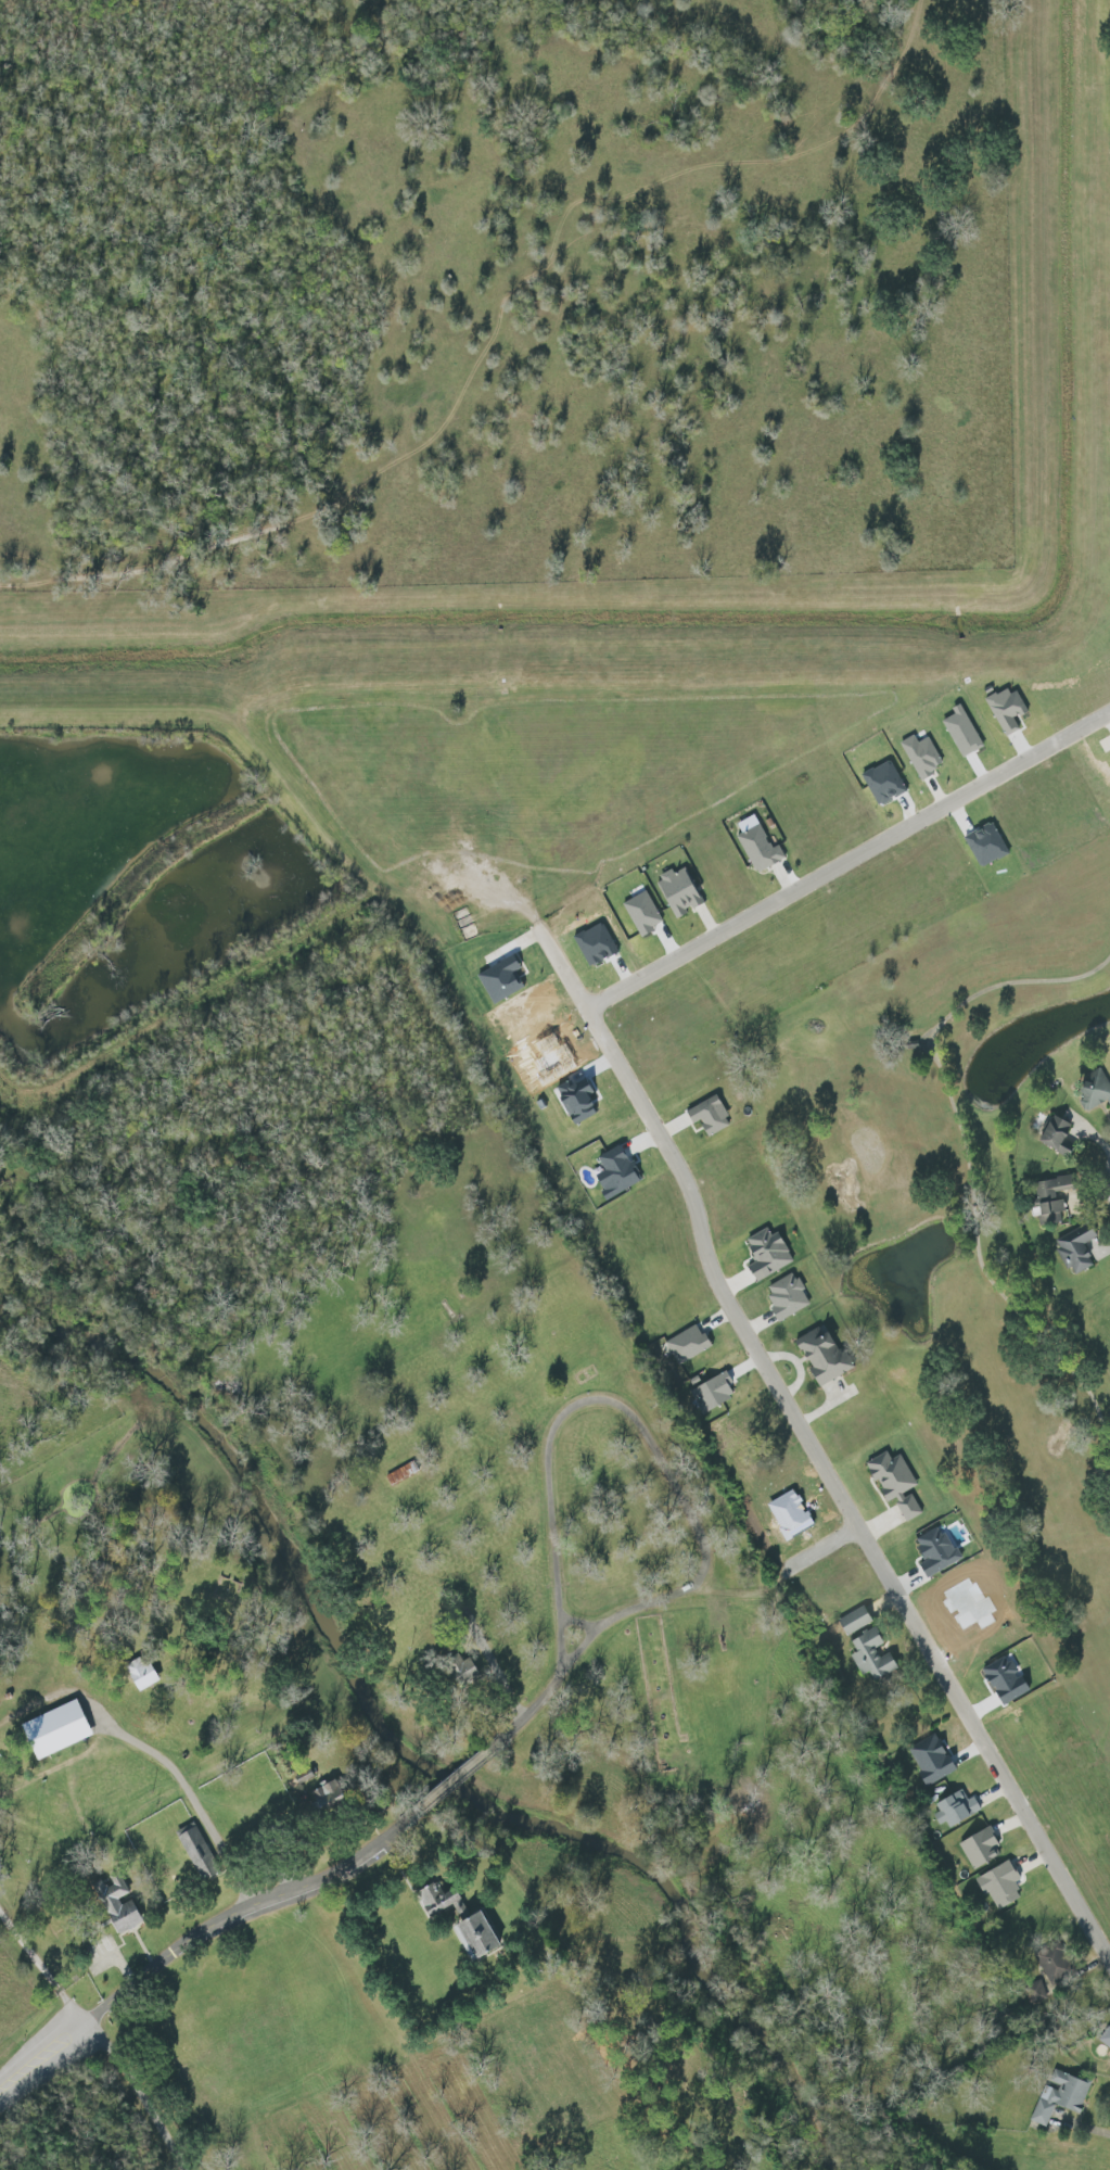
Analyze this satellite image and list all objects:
building: (1006, 709)
building: (921, 756)
building: (883, 783)
building: (986, 845)
building: (758, 848)
road: (851, 865)
building: (679, 892)
building: (642, 914)
building: (1097, 1091)
building: (577, 1096)
building: (711, 1116)
building: (1059, 1138)
building: (616, 1173)
building: (1052, 1200)
park: (957, 1208)
building: (1076, 1248)
building: (768, 1254)
building: (788, 1297)
building: (689, 1344)
building: (824, 1356)
building: (713, 1394)
road: (800, 1432)
road: (662, 1467)
building: (401, 1474)
building: (895, 1483)
road: (814, 1551)
building: (936, 1551)
building: (856, 1620)
building: (872, 1655)
building: (142, 1673)
building: (467, 1674)
river: (384, 1710)
building: (56, 1729)
building: (933, 1759)
road: (443, 1789)
building: (330, 1797)
road: (204, 1807)
building: (956, 1809)
building: (981, 1848)
building: (196, 1851)
building: (1000, 1885)
building: (439, 1900)
building: (119, 1908)
road: (233, 1913)
building: (479, 1937)
road: (92, 2035)
building: (1105, 2036)
road: (40, 2056)
building: (1061, 2098)

